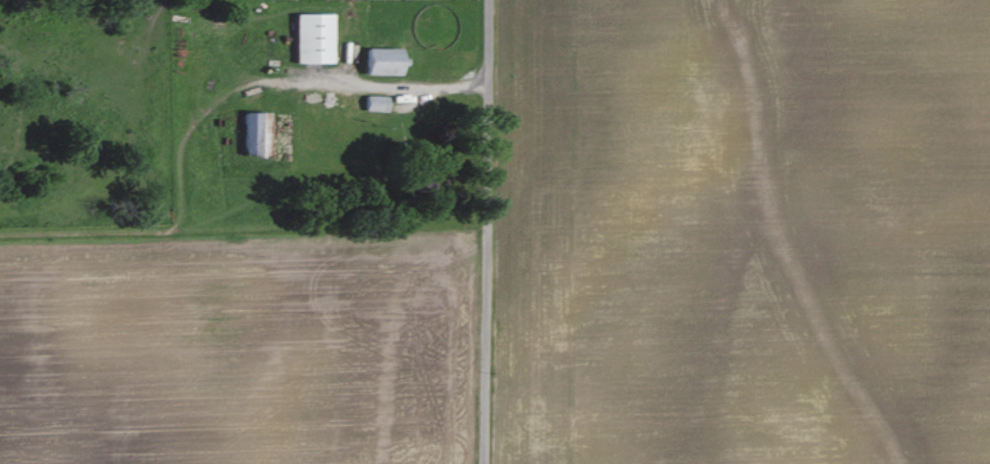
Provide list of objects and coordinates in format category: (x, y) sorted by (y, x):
building: (315, 37)
building: (385, 60)
road: (377, 84)
building: (377, 102)
building: (256, 132)
road: (490, 231)

